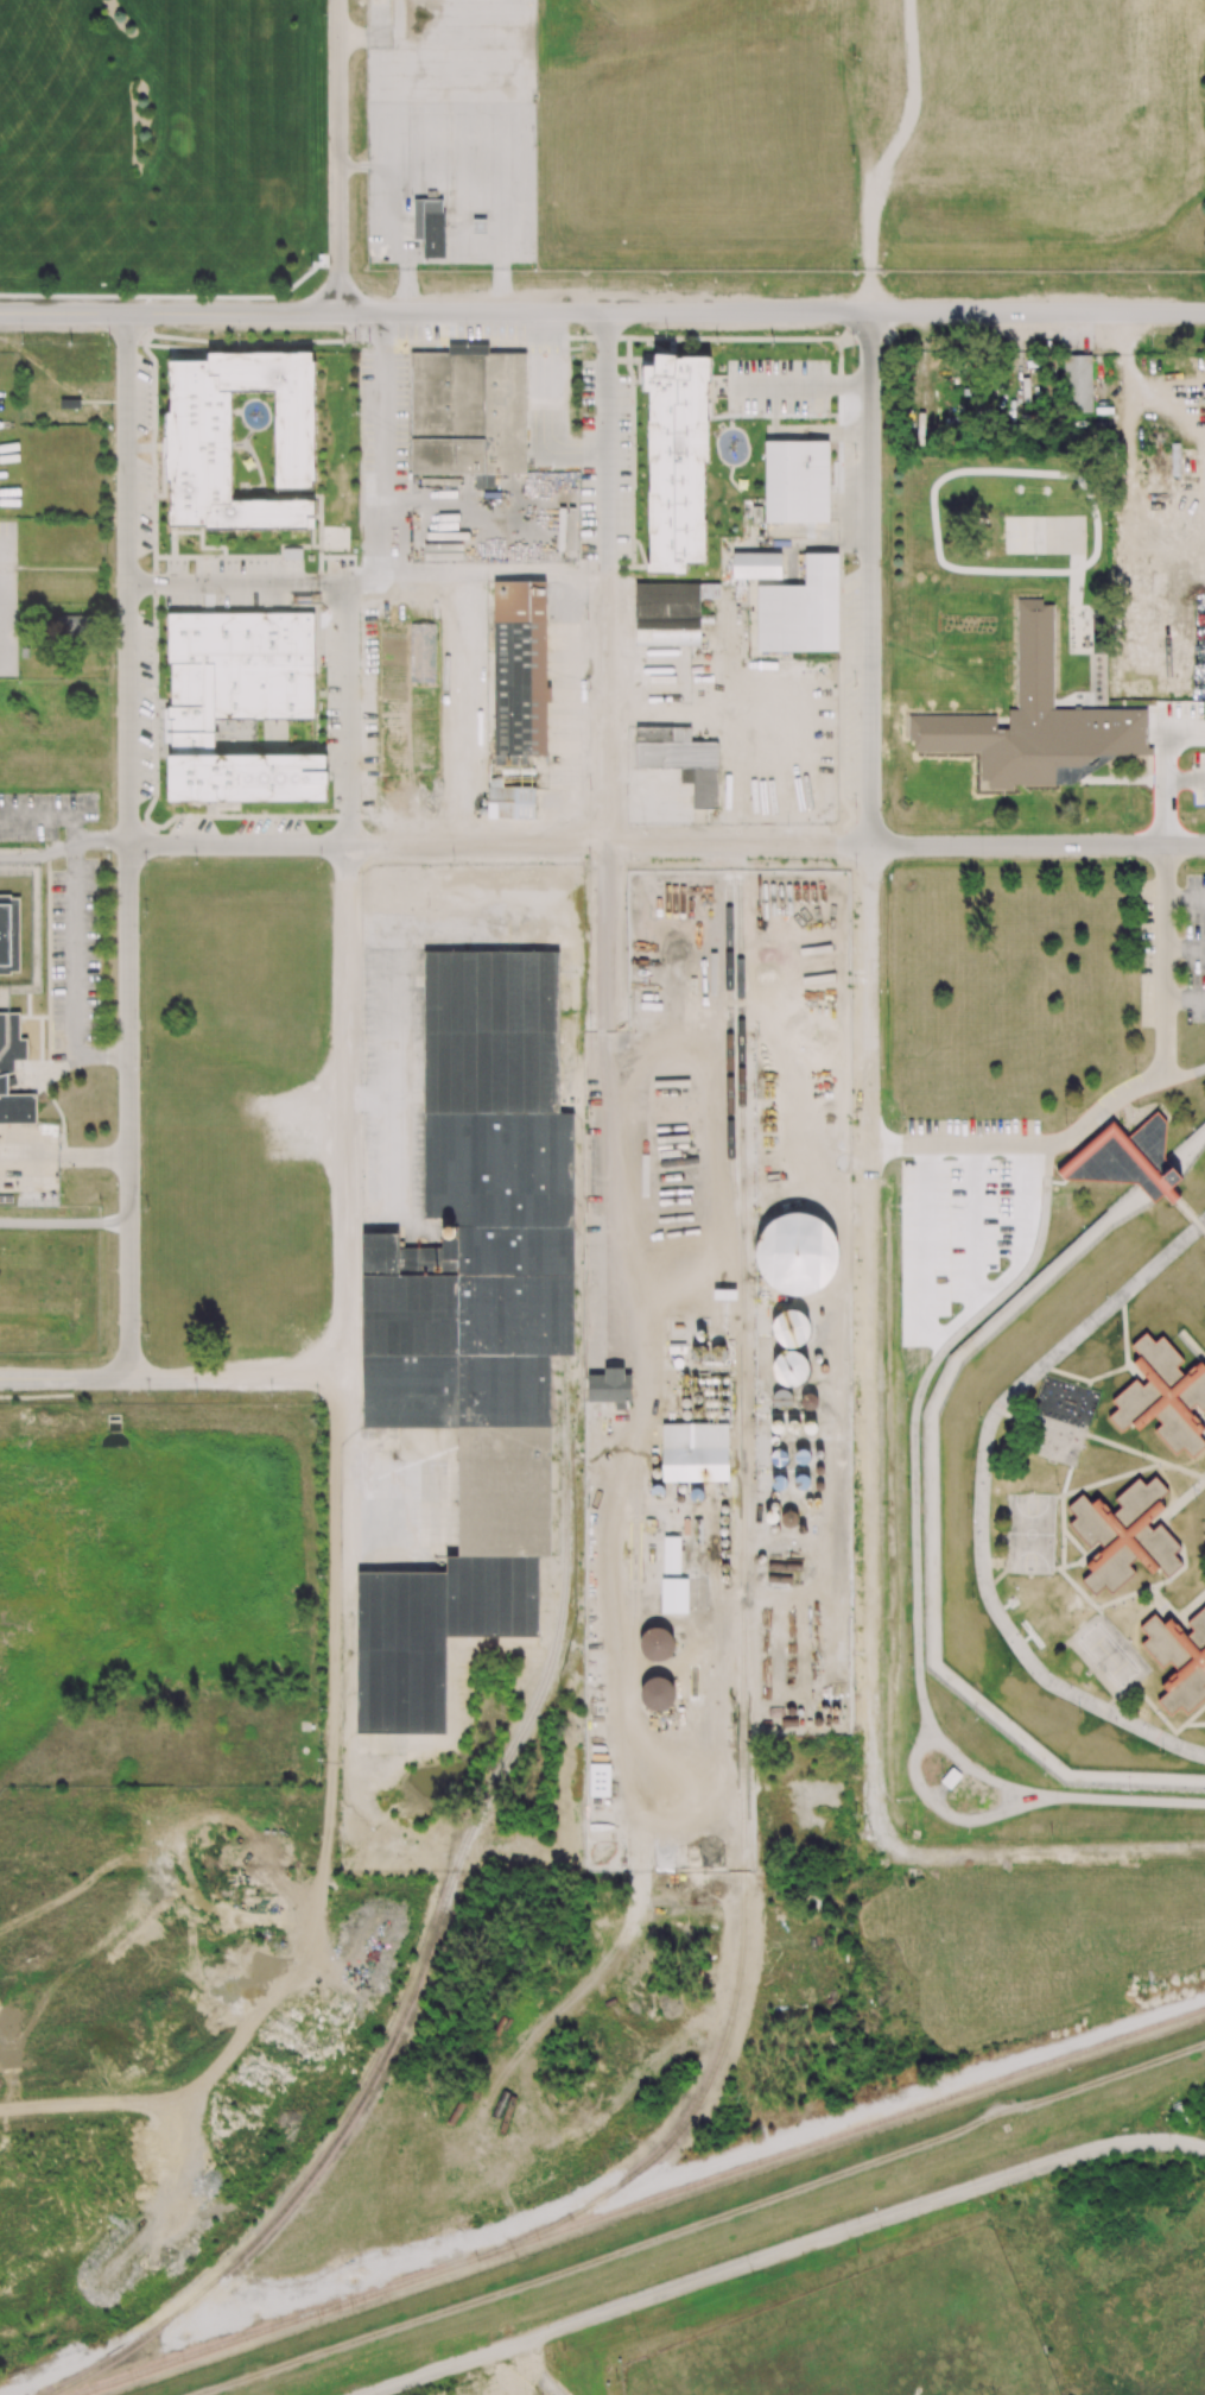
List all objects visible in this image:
street lamp: (322, 14)
road: (364, 37)
airport: (786, 135)
street lamp: (370, 145)
street lamp: (532, 145)
park: (12, 147)
road: (869, 154)
road: (337, 156)
street lamp: (356, 157)
road: (353, 166)
building: (431, 194)
building: (418, 226)
building: (480, 226)
building: (433, 235)
road: (406, 291)
road: (500, 291)
road: (173, 297)
road: (147, 304)
road: (772, 311)
road: (63, 312)
road: (232, 312)
street lamp: (467, 341)
street lamp: (109, 342)
street lamp: (229, 342)
street lamp: (583, 342)
street lamp: (21, 343)
street lamp: (355, 343)
street lamp: (150, 367)
building: (1078, 384)
road: (798, 385)
parking lot: (778, 386)
street lamp: (151, 406)
road: (548, 412)
building: (468, 413)
building: (201, 441)
building: (677, 459)
road: (383, 466)
building: (797, 480)
building: (756, 565)
road: (237, 583)
parking lot: (8, 601)
building: (801, 609)
building: (670, 612)
building: (70, 626)
building: (520, 670)
parking lot: (850, 684)
building: (240, 703)
building: (1035, 721)
building: (680, 758)
road: (1182, 777)
parking lot: (1198, 779)
road: (1160, 782)
building: (509, 801)
parking lot: (45, 815)
road: (50, 817)
road: (607, 828)
road: (127, 845)
road: (665, 845)
road: (63, 847)
road: (1185, 895)
building: (9, 934)
road: (1185, 947)
parking lot: (1172, 952)
road: (47, 961)
parking lot: (75, 961)
road: (1165, 962)
road: (75, 974)
road: (345, 982)
road: (1185, 1000)
railway: (731, 1064)
building: (7, 1066)
road: (37, 1072)
road: (964, 1145)
road: (69, 1159)
building: (1128, 1159)
road: (1190, 1215)
road: (64, 1224)
road: (871, 1238)
building: (797, 1253)
building: (473, 1322)
building: (791, 1328)
road: (1129, 1364)
road: (1204, 1364)
road: (1117, 1369)
building: (789, 1370)
road: (164, 1378)
road: (1089, 1384)
building: (610, 1388)
building: (1163, 1395)
building: (782, 1397)
road: (1198, 1415)
building: (695, 1452)
road: (1144, 1456)
road: (915, 1477)
road: (355, 1478)
road: (1186, 1492)
road: (982, 1500)
park: (1030, 1533)
building: (1125, 1534)
road: (1092, 1550)
building: (671, 1555)
road: (1085, 1556)
road: (334, 1559)
road: (1070, 1579)
building: (674, 1595)
road: (1160, 1605)
road: (1190, 1607)
building: (657, 1644)
park: (1108, 1654)
building: (1179, 1660)
railway: (743, 1673)
building: (657, 1694)
road: (1168, 1724)
building: (598, 1780)
railway: (432, 1940)
railway: (842, 2132)
road: (782, 2254)
park: (955, 2270)
railway: (278, 2325)
road: (541, 2370)
parking lot: (491, 2384)

